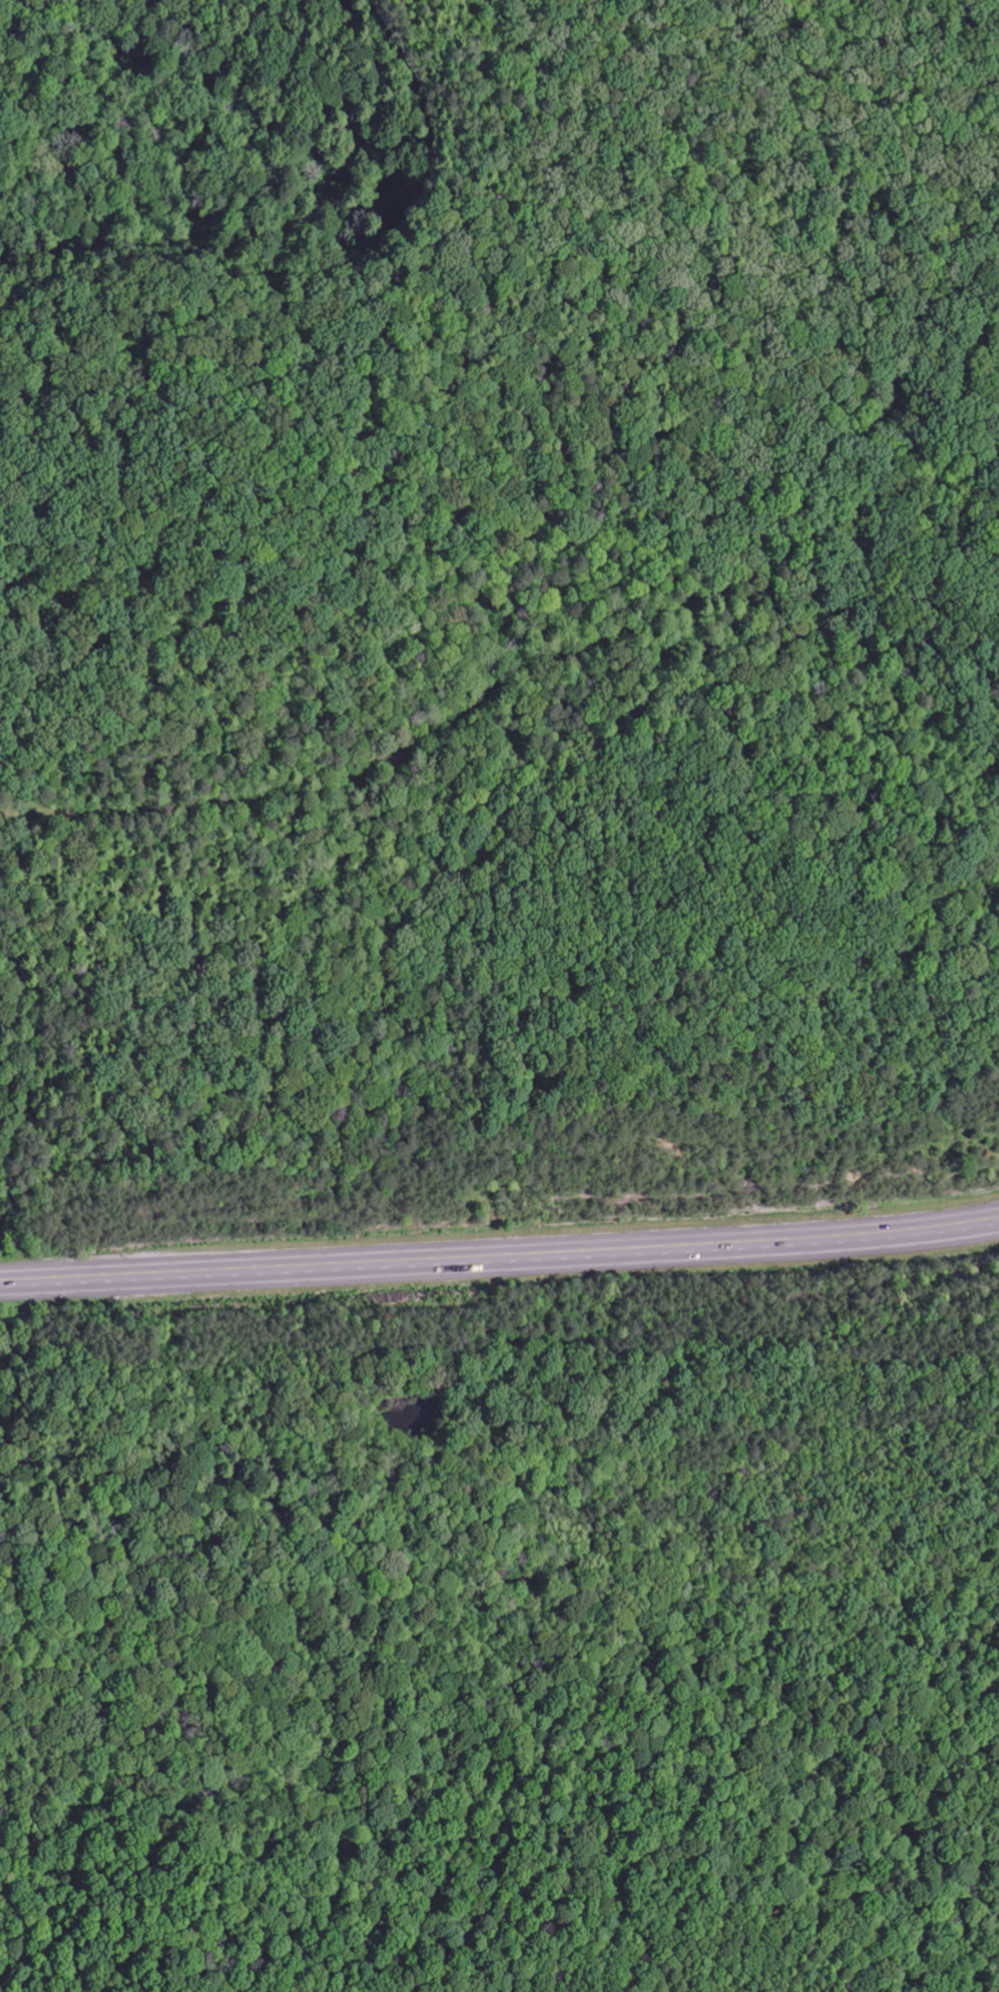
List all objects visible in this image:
road: (997, 1)
road: (499, 1257)

